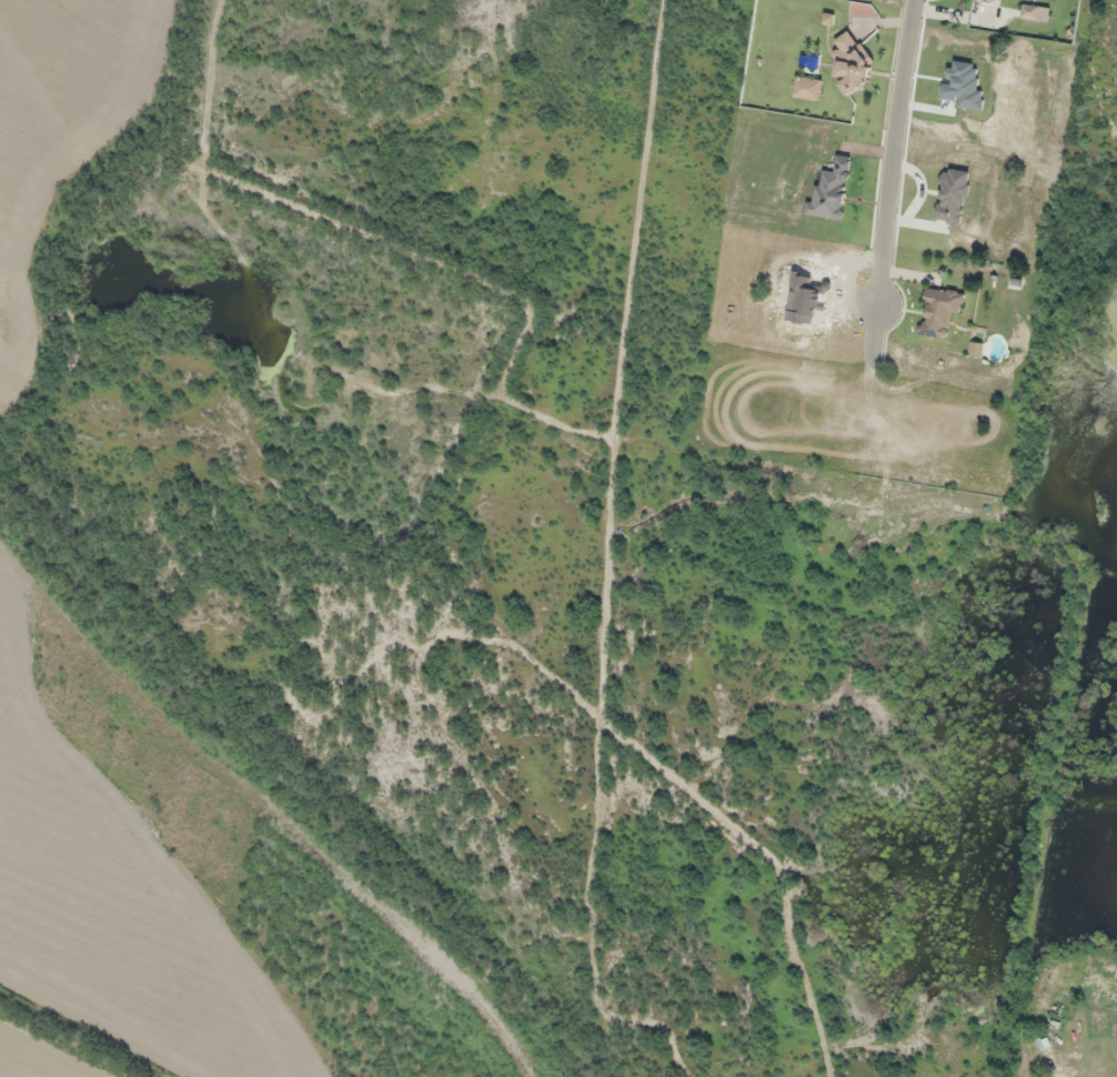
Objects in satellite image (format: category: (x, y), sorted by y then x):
building: (993, 0)
building: (1035, 12)
road: (890, 183)
building: (939, 310)

